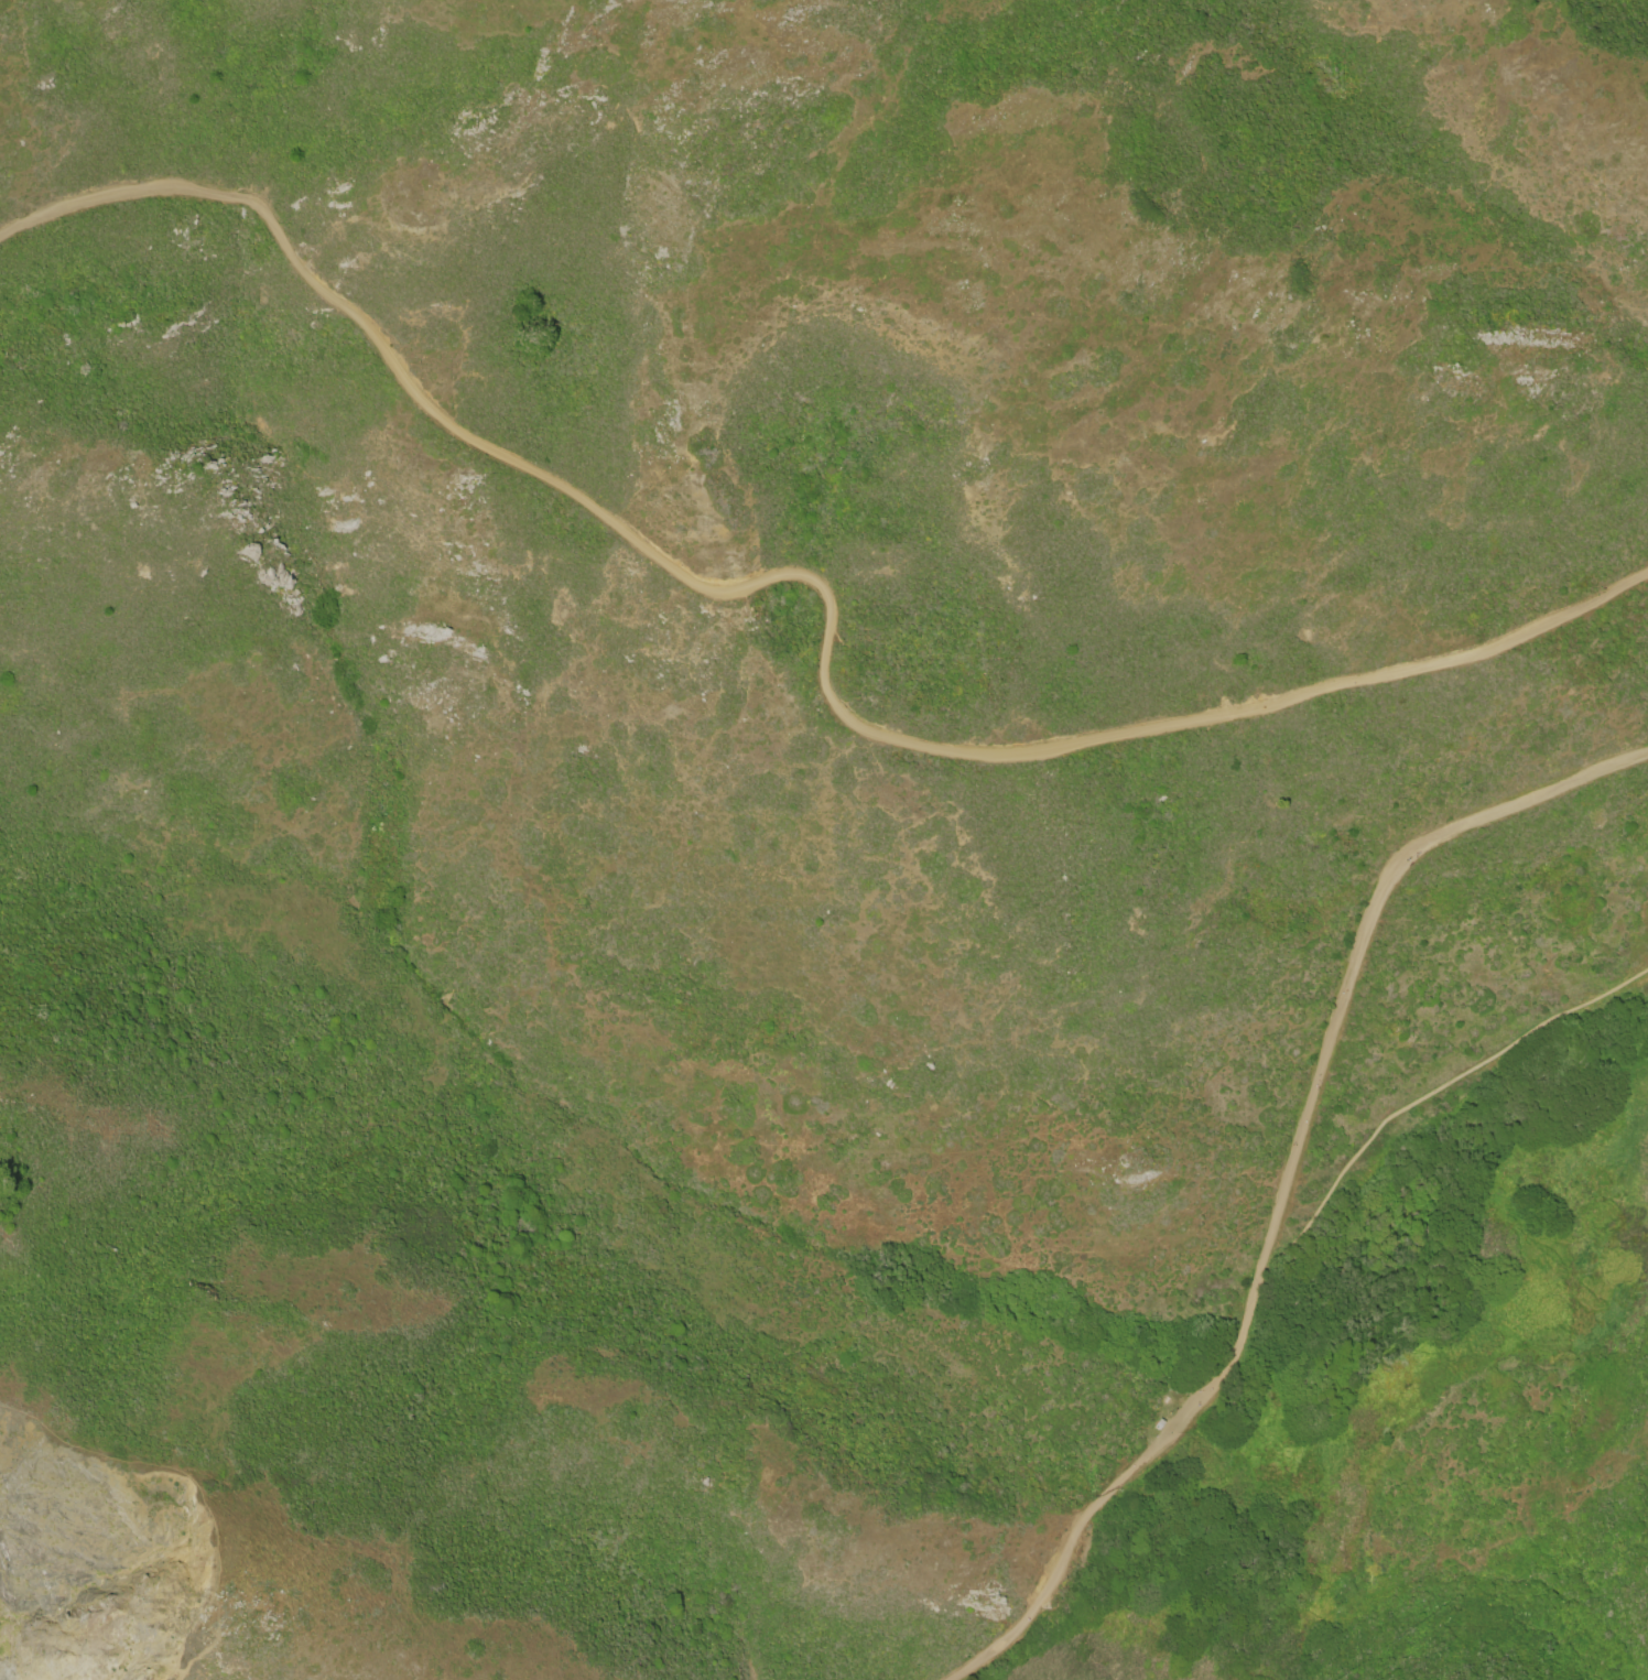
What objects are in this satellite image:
road: (817, 585)
road: (1425, 1095)
road: (1291, 1182)
building: (1158, 1423)
road: (194, 1484)

